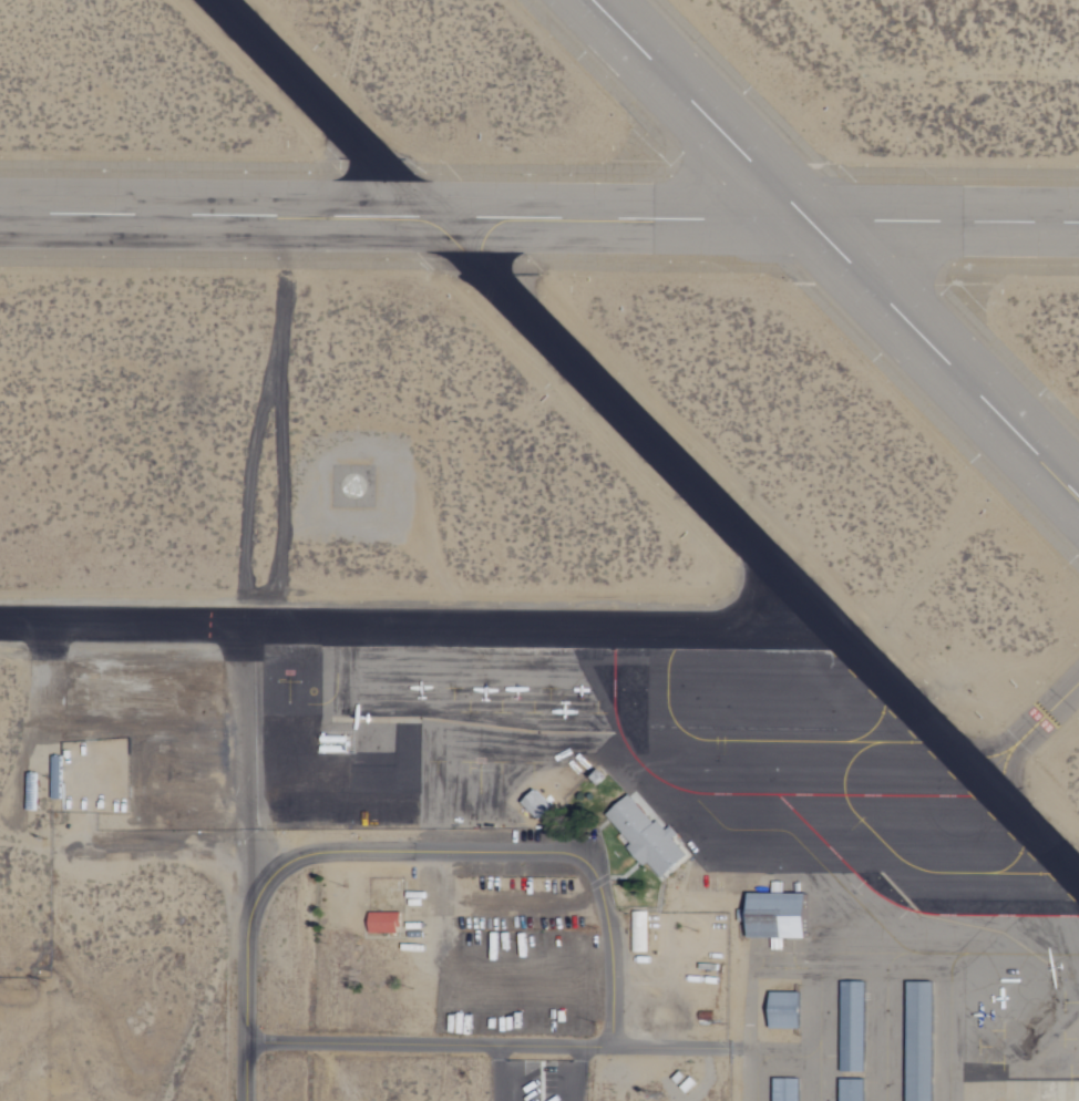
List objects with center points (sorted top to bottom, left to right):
airport runway: (538, 197)
airport runway: (841, 244)
airport taxiway: (649, 438)
airport: (539, 550)
airport taxiway: (417, 621)
airport taxiway: (1030, 730)
building: (55, 778)
building: (31, 791)
building: (534, 802)
building: (647, 835)
road: (401, 850)
road: (533, 902)
building: (774, 915)
building: (381, 923)
building: (637, 930)
building: (781, 1009)
building: (852, 1026)
building: (919, 1040)
road: (425, 1046)
road: (666, 1047)
road: (504, 1072)
road: (577, 1073)
building: (783, 1090)
building: (850, 1090)

